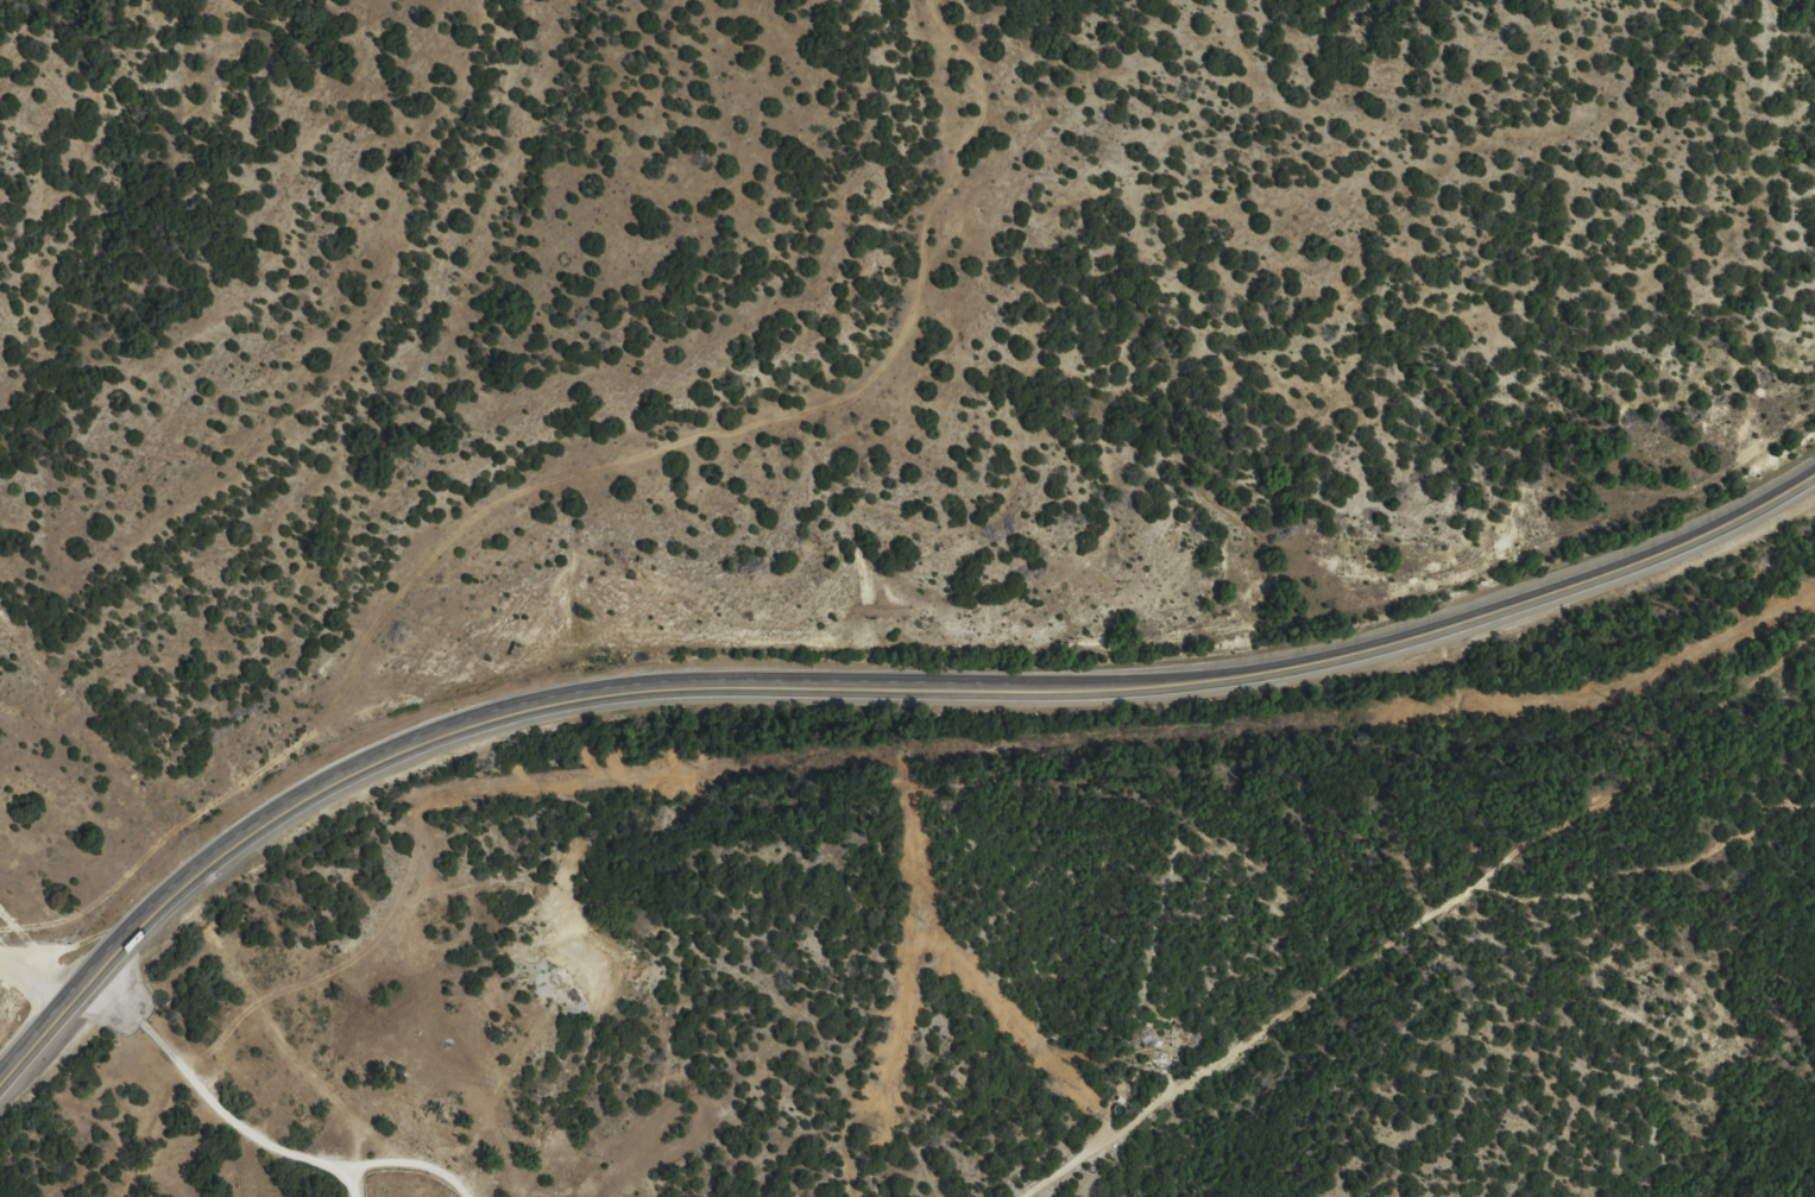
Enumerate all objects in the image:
road: (858, 682)
road: (24, 988)
road: (201, 1091)
road: (409, 1164)
road: (346, 1183)

